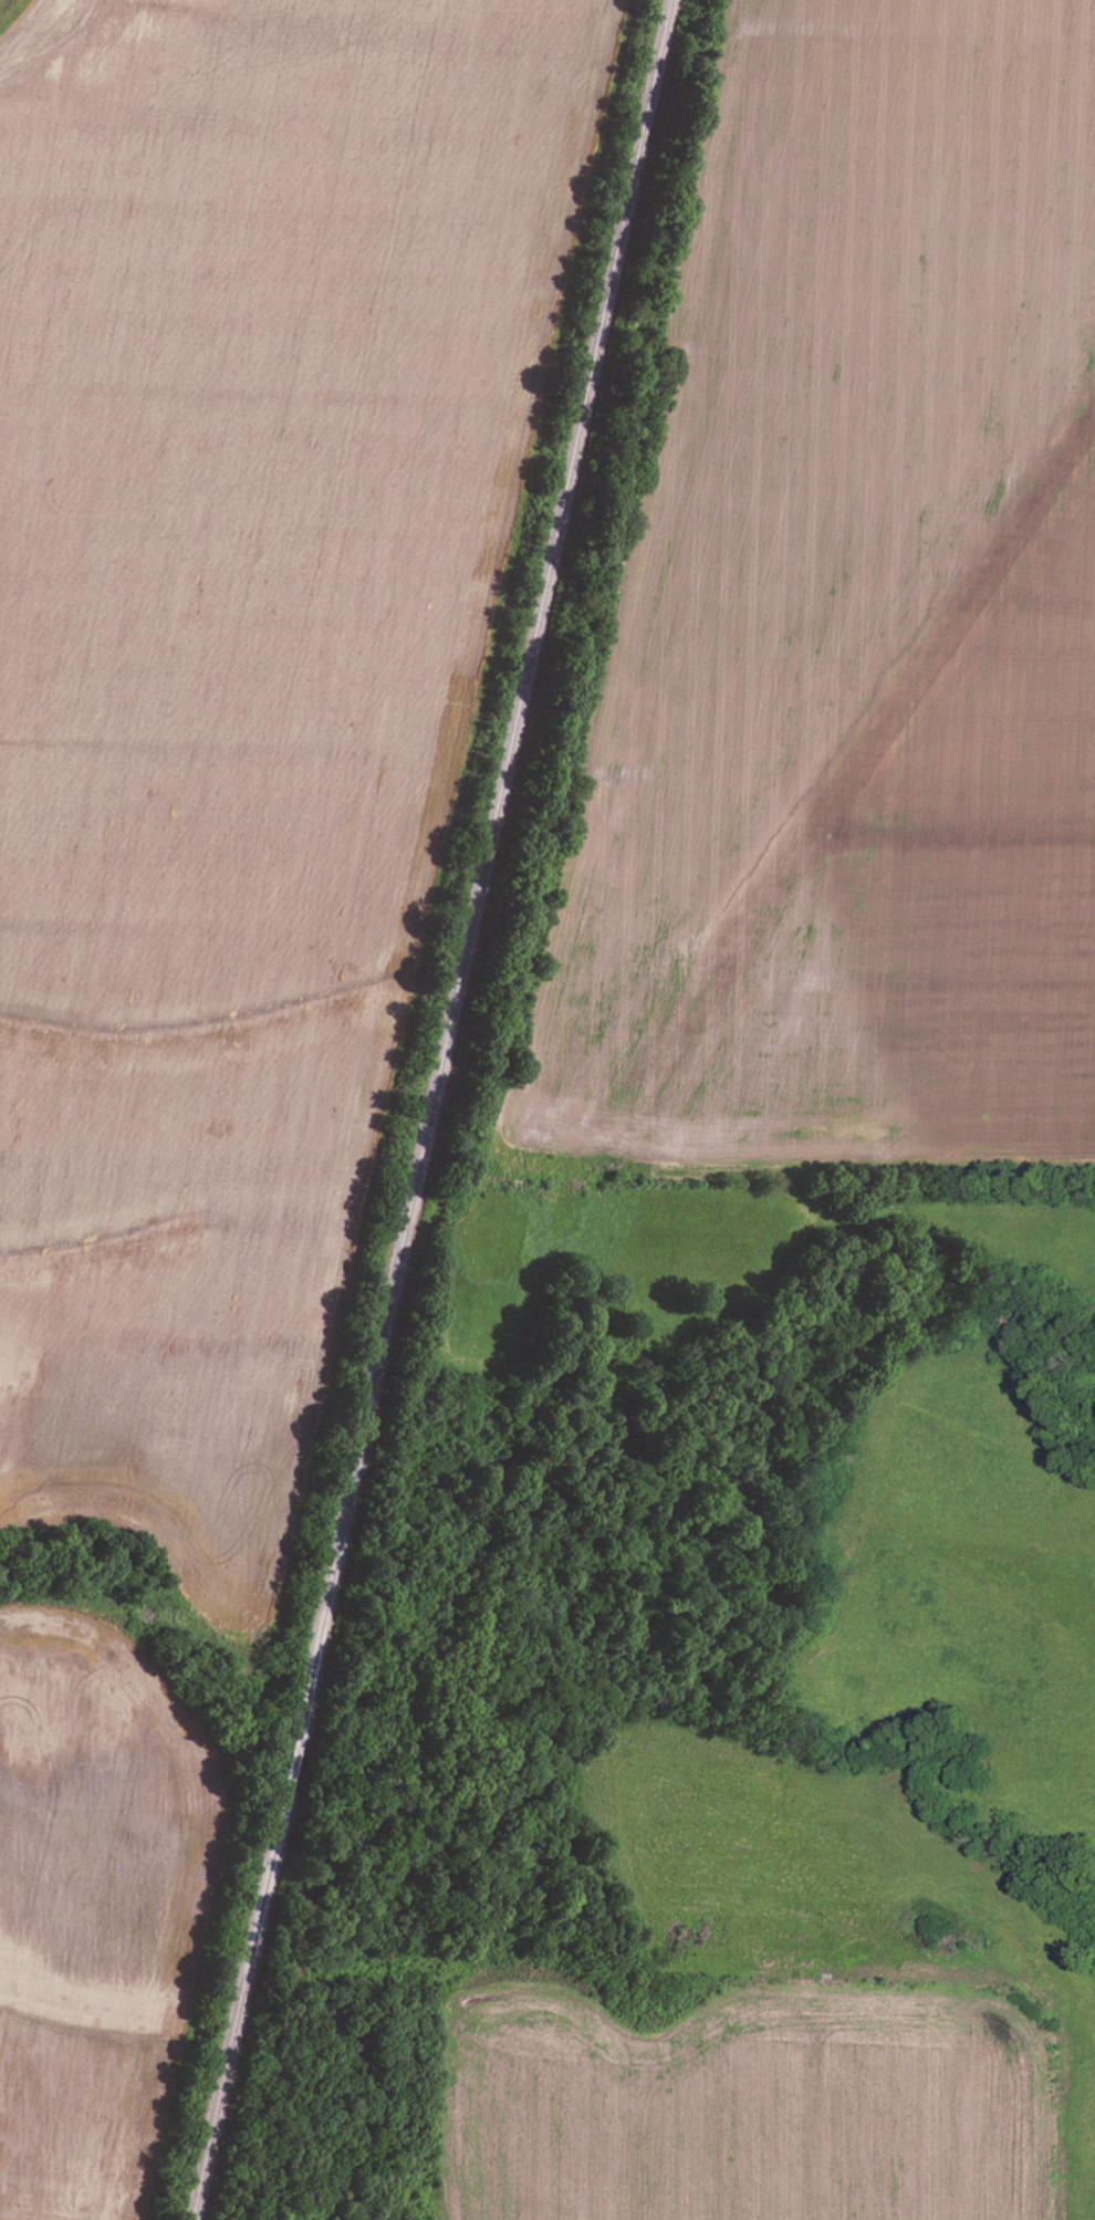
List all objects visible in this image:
airport runway: (847, 778)
airport taxiway: (952, 840)
railway: (432, 1109)

